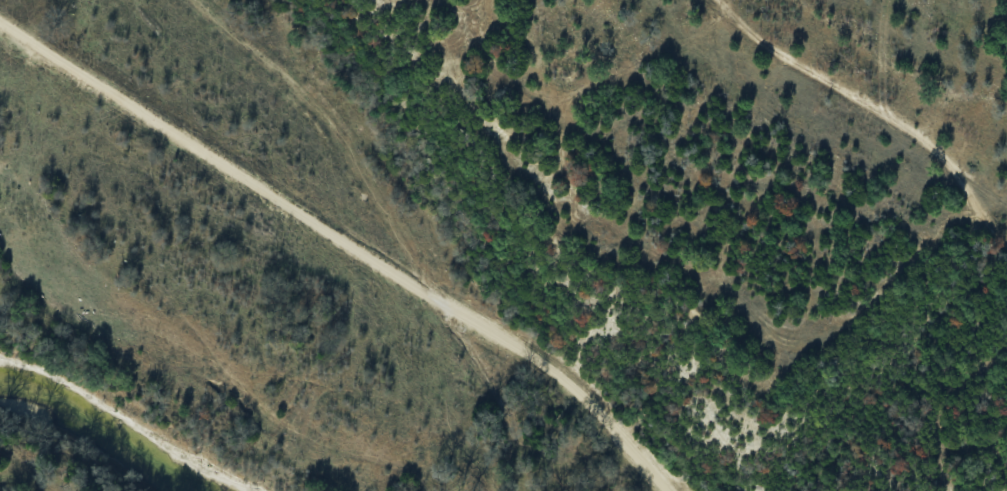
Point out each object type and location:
road: (342, 238)
river: (99, 431)

